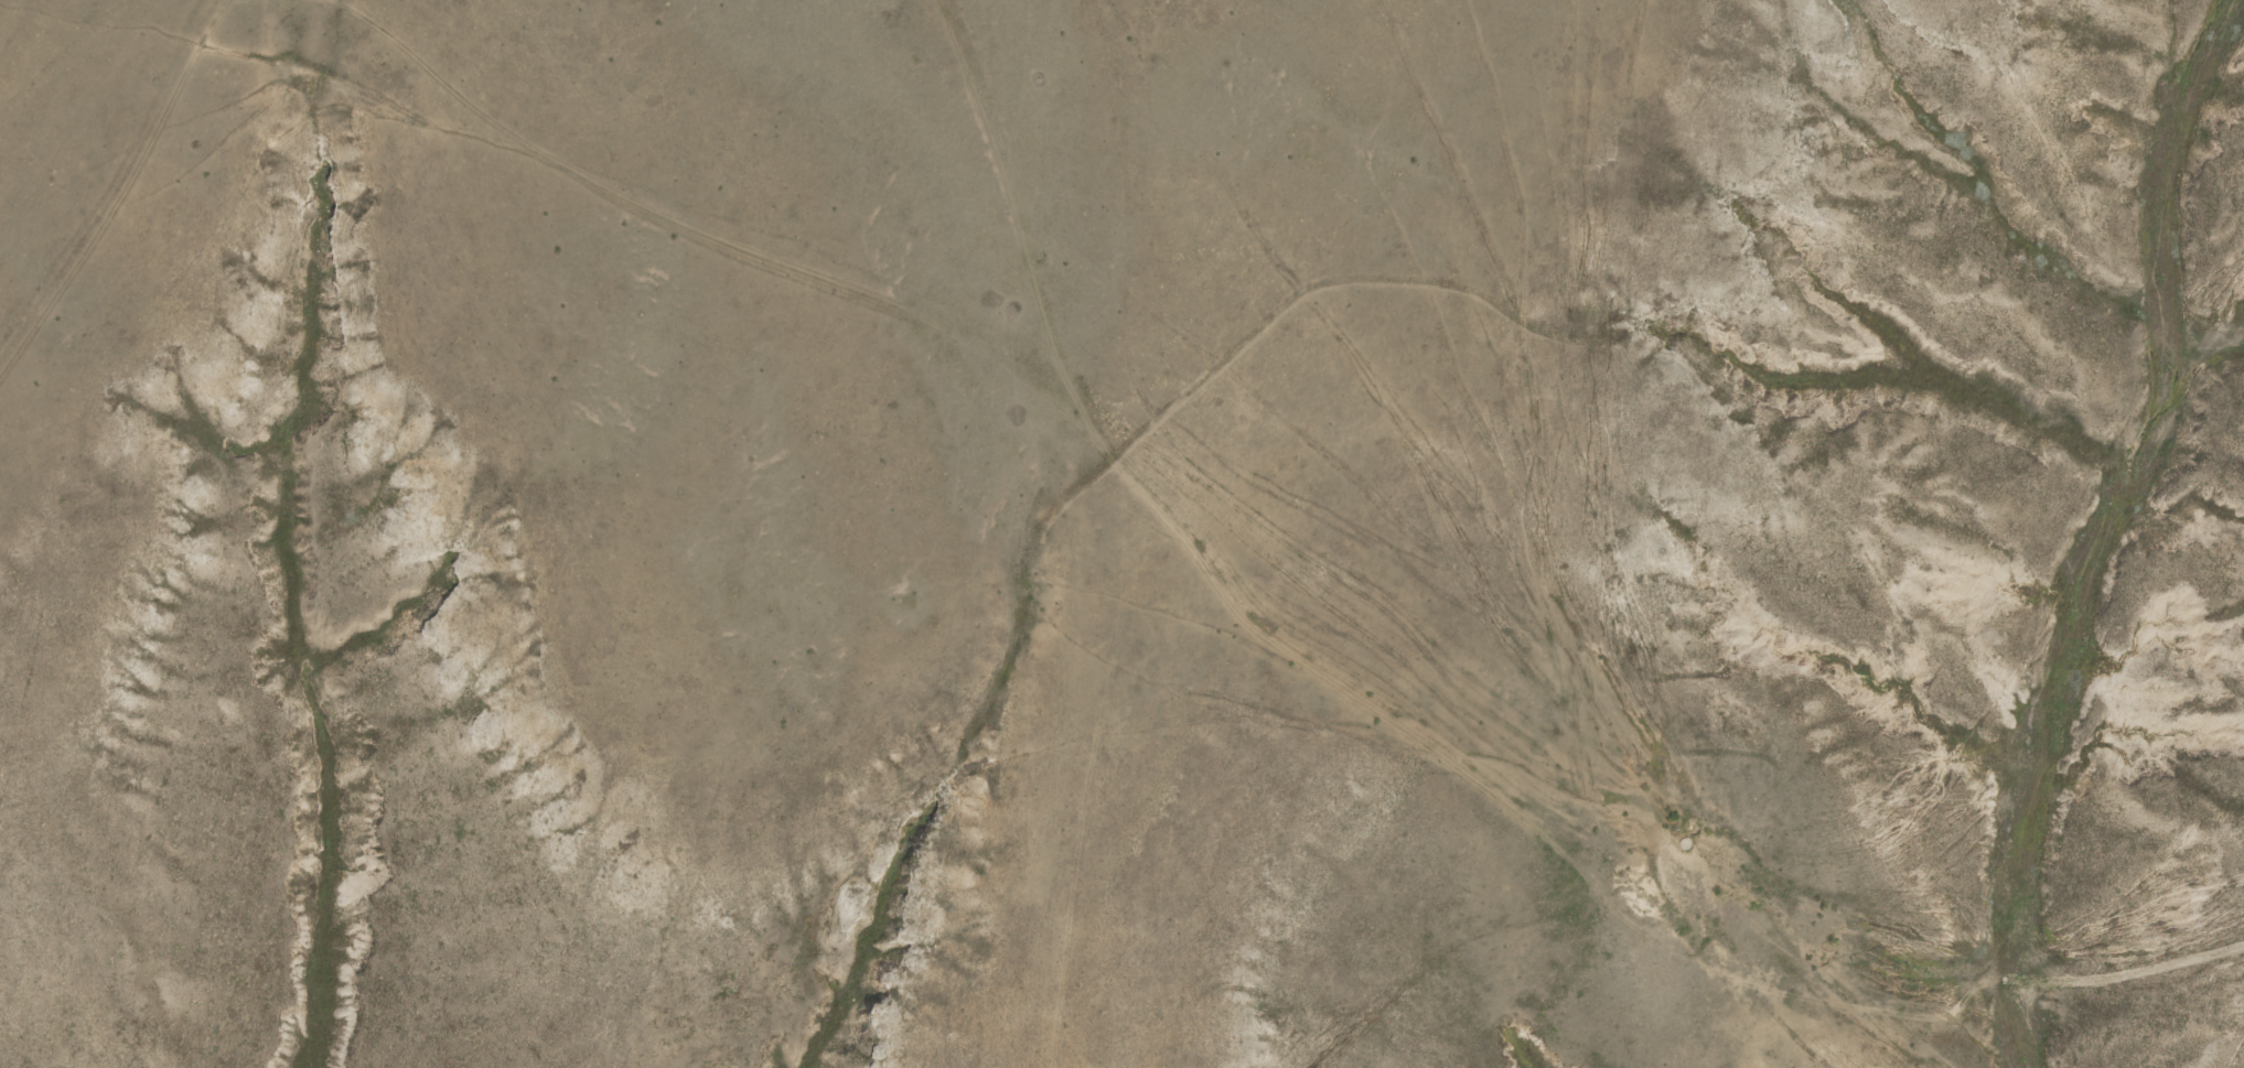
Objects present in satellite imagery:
road: (132, 183)
road: (1019, 342)

